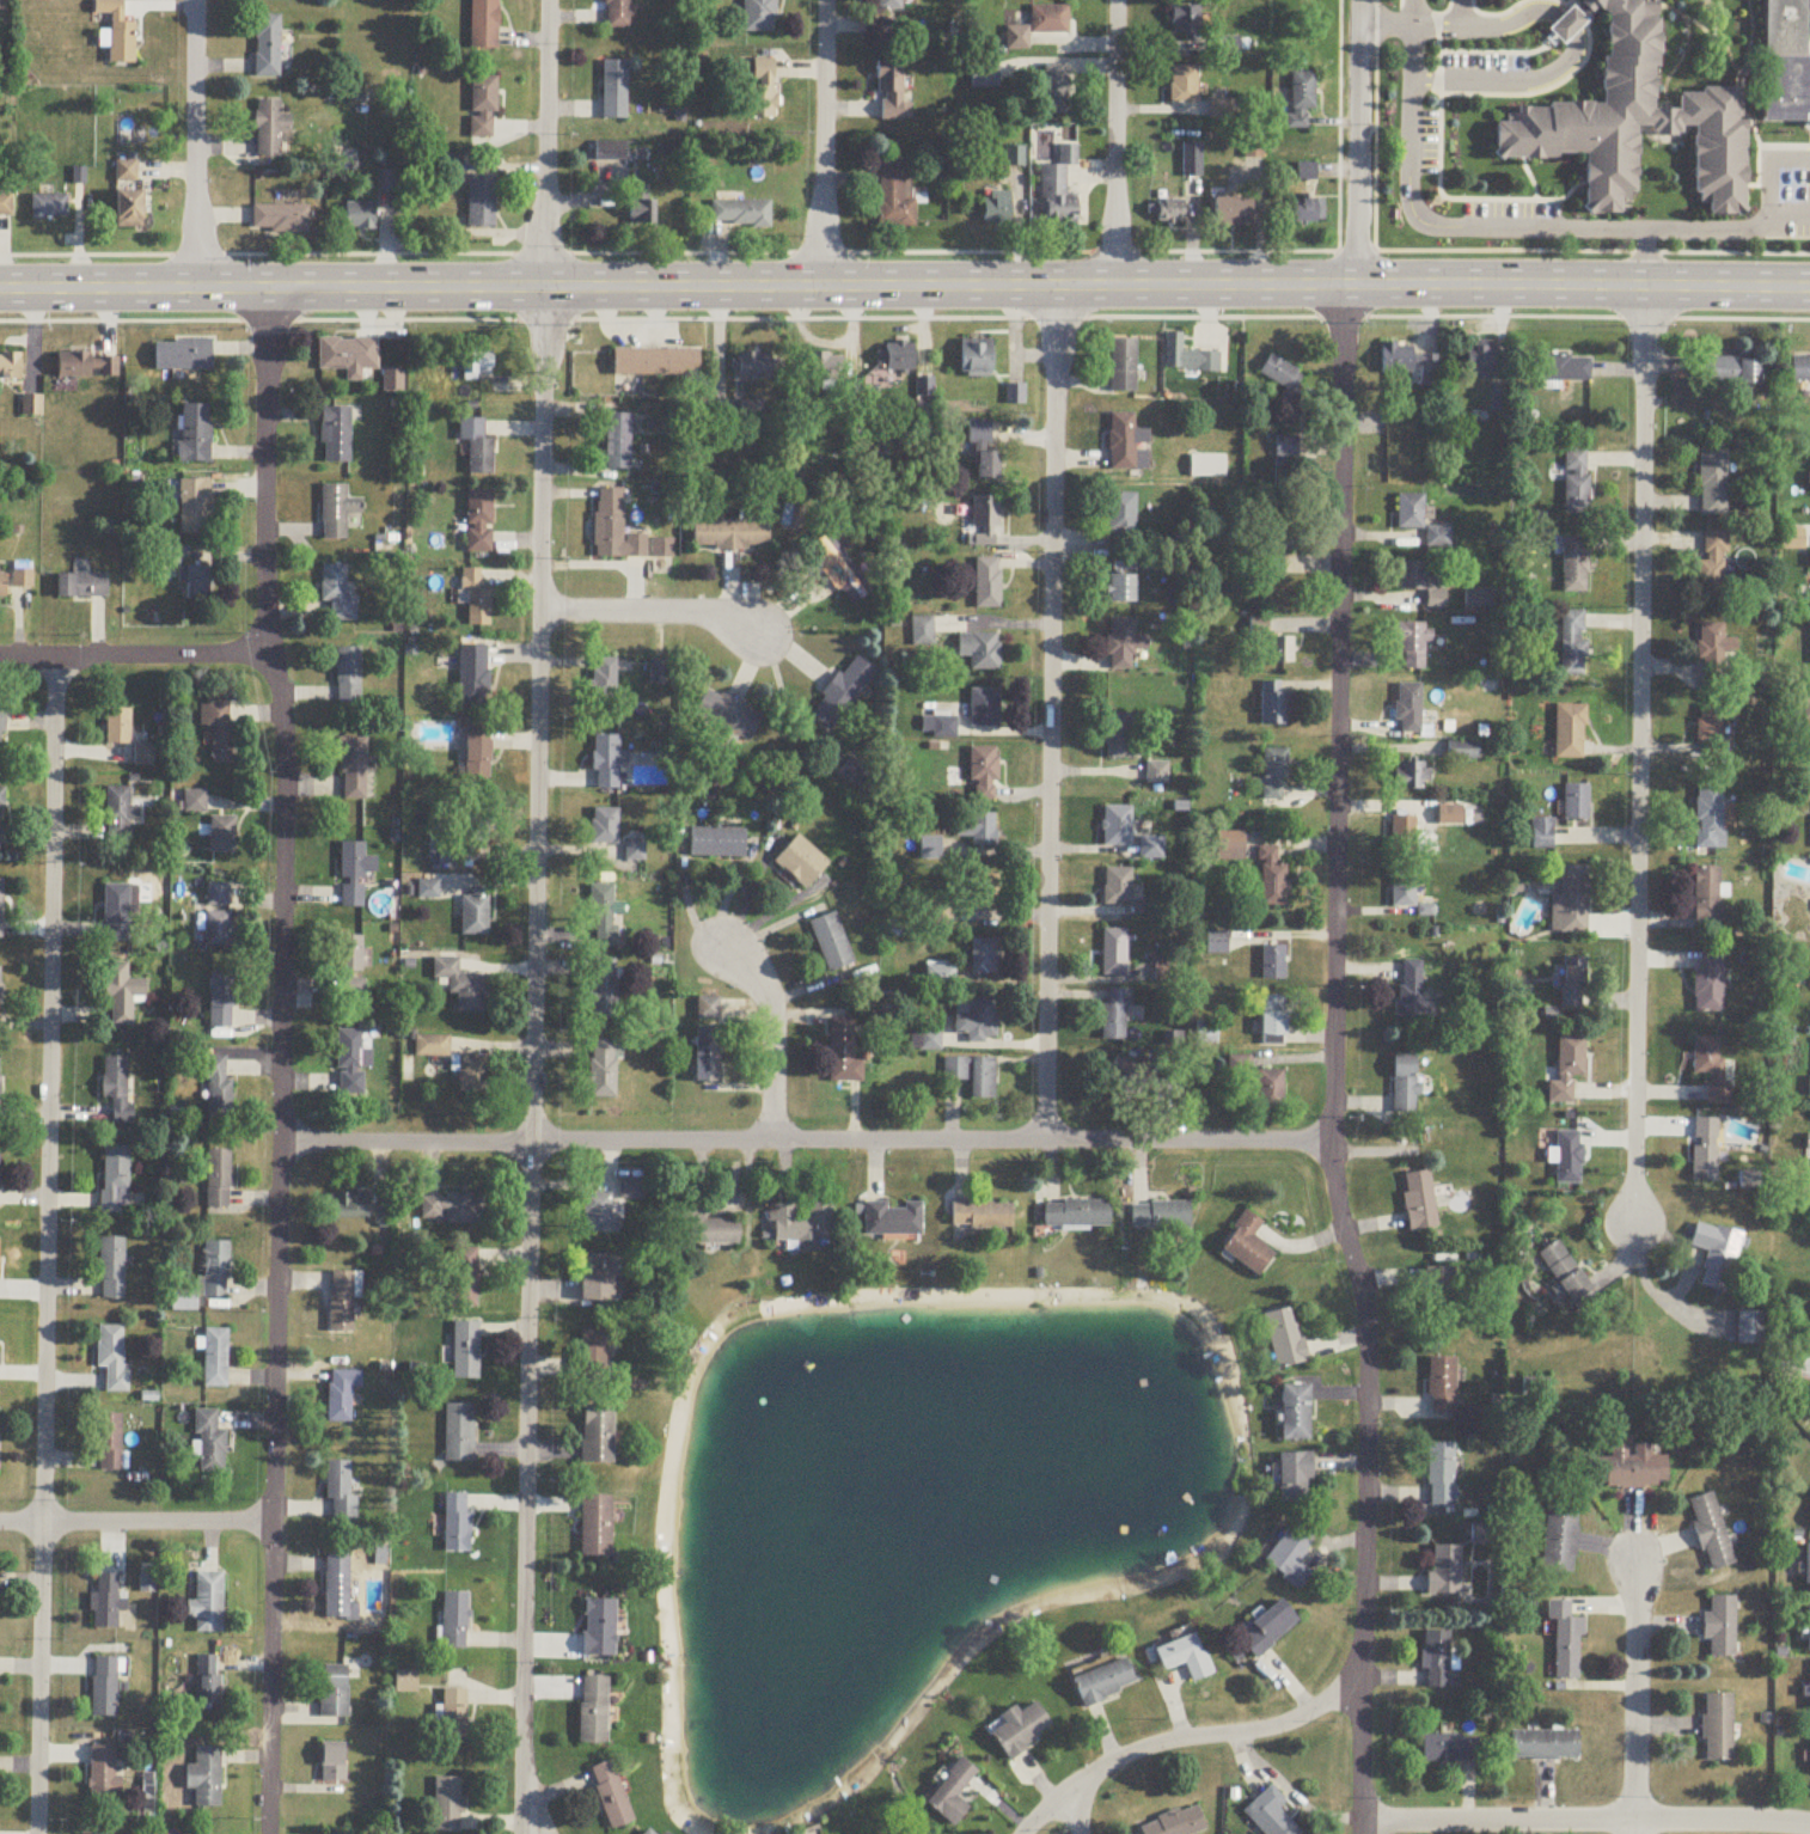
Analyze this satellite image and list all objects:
road: (1563, 0)
building: (889, 5)
road: (1571, 7)
road: (1418, 10)
road: (1411, 11)
road: (1461, 11)
road: (1497, 12)
building: (617, 14)
building: (758, 16)
road: (1563, 16)
building: (1048, 19)
building: (1185, 22)
road: (1484, 22)
building: (483, 25)
building: (117, 33)
building: (1015, 38)
road: (1808, 43)
road: (1750, 44)
building: (265, 47)
road: (1499, 50)
road: (1731, 56)
road: (1681, 60)
building: (1781, 60)
parking lot: (1482, 72)
building: (984, 75)
road: (1511, 75)
building: (1182, 86)
road: (1542, 86)
building: (762, 90)
building: (1054, 90)
building: (614, 91)
building: (892, 93)
building: (1300, 102)
building: (482, 108)
building: (1221, 110)
building: (1629, 115)
building: (269, 129)
road: (1362, 140)
parking lot: (1424, 140)
road: (823, 141)
road: (1114, 143)
road: (195, 145)
road: (1768, 147)
building: (1252, 149)
building: (610, 152)
building: (1192, 160)
road: (1437, 165)
road: (1773, 166)
building: (126, 172)
building: (1305, 172)
road: (1528, 173)
building: (385, 182)
road: (1756, 182)
building: (1057, 190)
parking lot: (1784, 191)
building: (481, 201)
building: (893, 202)
building: (6, 206)
building: (641, 206)
building: (48, 207)
building: (996, 208)
parking lot: (1510, 208)
building: (129, 209)
building: (1167, 212)
building: (1233, 212)
building: (1305, 212)
road: (1791, 212)
building: (740, 214)
building: (360, 216)
building: (279, 220)
road: (1475, 226)
road: (905, 252)
road: (1645, 256)
road: (905, 285)
road: (905, 318)
building: (1173, 350)
building: (182, 355)
building: (348, 356)
building: (899, 356)
building: (974, 359)
building: (1479, 361)
building: (655, 363)
building: (1408, 363)
building: (476, 365)
building: (87, 366)
building: (1123, 367)
building: (11, 368)
building: (752, 368)
building: (824, 368)
building: (1800, 371)
building: (1560, 372)
building: (1733, 372)
building: (1280, 375)
building: (924, 387)
building: (31, 405)
building: (978, 433)
building: (195, 434)
building: (335, 435)
building: (617, 441)
building: (1121, 442)
building: (1285, 448)
building: (476, 450)
building: (987, 466)
building: (1206, 467)
building: (1577, 482)
building: (1713, 482)
building: (194, 507)
building: (336, 512)
building: (1410, 512)
building: (1120, 519)
building: (983, 521)
building: (479, 522)
building: (614, 528)
building: (729, 536)
building: (1437, 538)
building: (662, 549)
building: (1277, 549)
building: (1132, 563)
building: (1576, 564)
building: (1714, 567)
building: (838, 570)
building: (23, 575)
building: (197, 582)
building: (986, 583)
building: (1420, 583)
building: (2, 586)
building: (81, 586)
building: (1121, 589)
building: (337, 594)
building: (476, 601)
road: (653, 615)
building: (1258, 630)
building: (922, 632)
building: (1120, 644)
building: (1413, 644)
building: (1573, 644)
building: (979, 650)
building: (1282, 650)
road: (135, 653)
building: (1716, 654)
building: (660, 673)
building: (348, 675)
building: (472, 675)
building: (604, 678)
building: (840, 693)
building: (1274, 704)
building: (984, 709)
building: (1410, 709)
road: (1050, 711)
building: (1806, 715)
building: (727, 716)
building: (1, 725)
building: (117, 727)
building: (943, 728)
building: (1711, 730)
building: (1570, 732)
building: (219, 733)
building: (1119, 736)
building: (1463, 748)
building: (477, 753)
road: (1640, 757)
building: (607, 763)
building: (351, 769)
building: (854, 770)
building: (1156, 774)
building: (1274, 774)
building: (984, 775)
building: (1412, 776)
building: (1805, 790)
building: (1577, 802)
building: (118, 815)
building: (1450, 815)
building: (1710, 817)
building: (0, 818)
building: (604, 827)
building: (1117, 827)
building: (977, 830)
building: (221, 836)
building: (1405, 836)
building: (472, 838)
building: (716, 844)
building: (1230, 848)
building: (930, 849)
building: (1151, 849)
building: (635, 852)
building: (442, 856)
building: (801, 863)
building: (353, 874)
building: (1274, 880)
building: (1118, 887)
building: (1405, 890)
building: (427, 891)
building: (985, 894)
building: (1707, 897)
building: (1571, 904)
building: (0, 910)
building: (117, 915)
building: (473, 915)
building: (603, 915)
road: (534, 916)
building: (218, 930)
building: (1217, 943)
building: (831, 944)
building: (1114, 954)
building: (349, 955)
building: (984, 958)
building: (1274, 964)
building: (940, 977)
building: (1574, 984)
building: (1710, 984)
building: (459, 988)
building: (0, 989)
building: (354, 989)
building: (603, 991)
building: (1411, 991)
building: (121, 994)
building: (220, 1002)
building: (713, 1011)
building: (1115, 1015)
building: (1273, 1019)
building: (976, 1020)
road: (772, 1039)
building: (930, 1041)
building: (430, 1047)
building: (843, 1054)
building: (707, 1056)
road: (279, 1059)
road: (1337, 1060)
building: (349, 1064)
building: (1711, 1068)
building: (1569, 1069)
building: (603, 1070)
building: (470, 1075)
building: (972, 1076)
building: (1406, 1086)
building: (216, 1088)
building: (0, 1090)
building: (116, 1090)
building: (1270, 1092)
road: (803, 1138)
building: (1809, 1143)
building: (1567, 1149)
building: (1706, 1151)
building: (114, 1180)
building: (218, 1180)
building: (1420, 1202)
building: (348, 1208)
building: (451, 1210)
building: (598, 1215)
building: (983, 1216)
building: (1077, 1216)
building: (1161, 1217)
building: (893, 1221)
building: (803, 1227)
building: (708, 1228)
road: (45, 1243)
building: (1248, 1246)
building: (1718, 1257)
building: (110, 1270)
building: (215, 1271)
building: (1567, 1274)
building: (464, 1278)
building: (599, 1279)
road: (1681, 1288)
building: (1441, 1290)
building: (182, 1302)
building: (342, 1303)
building: (1750, 1329)
building: (1285, 1339)
building: (466, 1351)
building: (594, 1353)
building: (111, 1358)
building: (215, 1359)
building: (1794, 1374)
building: (1442, 1387)
building: (341, 1396)
building: (1296, 1413)
building: (459, 1433)
building: (598, 1435)
building: (109, 1443)
building: (209, 1444)
building: (1631, 1469)
building: (1441, 1475)
building: (1296, 1479)
building: (342, 1491)
road: (137, 1522)
building: (458, 1524)
building: (597, 1527)
building: (1711, 1533)
building: (1559, 1542)
building: (1290, 1559)
building: (1809, 1570)
building: (1444, 1573)
building: (338, 1590)
building: (105, 1603)
building: (208, 1604)
building: (455, 1622)
building: (1720, 1627)
building: (1809, 1627)
building: (599, 1630)
building: (1267, 1630)
building: (1569, 1650)
building: (1185, 1657)
building: (1436, 1659)
building: (208, 1681)
building: (406, 1683)
building: (1105, 1683)
building: (104, 1688)
building: (335, 1693)
road: (1635, 1695)
building: (594, 1711)
building: (454, 1716)
building: (1718, 1729)
building: (1019, 1730)
road: (1194, 1735)
building: (1545, 1747)
building: (1450, 1749)
building: (334, 1763)
building: (103, 1779)
building: (206, 1779)
building: (952, 1793)
road: (1290, 1793)
building: (612, 1797)
building: (448, 1807)
road: (1078, 1808)
building: (1271, 1815)
road: (1585, 1820)
building: (1175, 1824)
road: (532, 1828)
building: (649, 1833)

